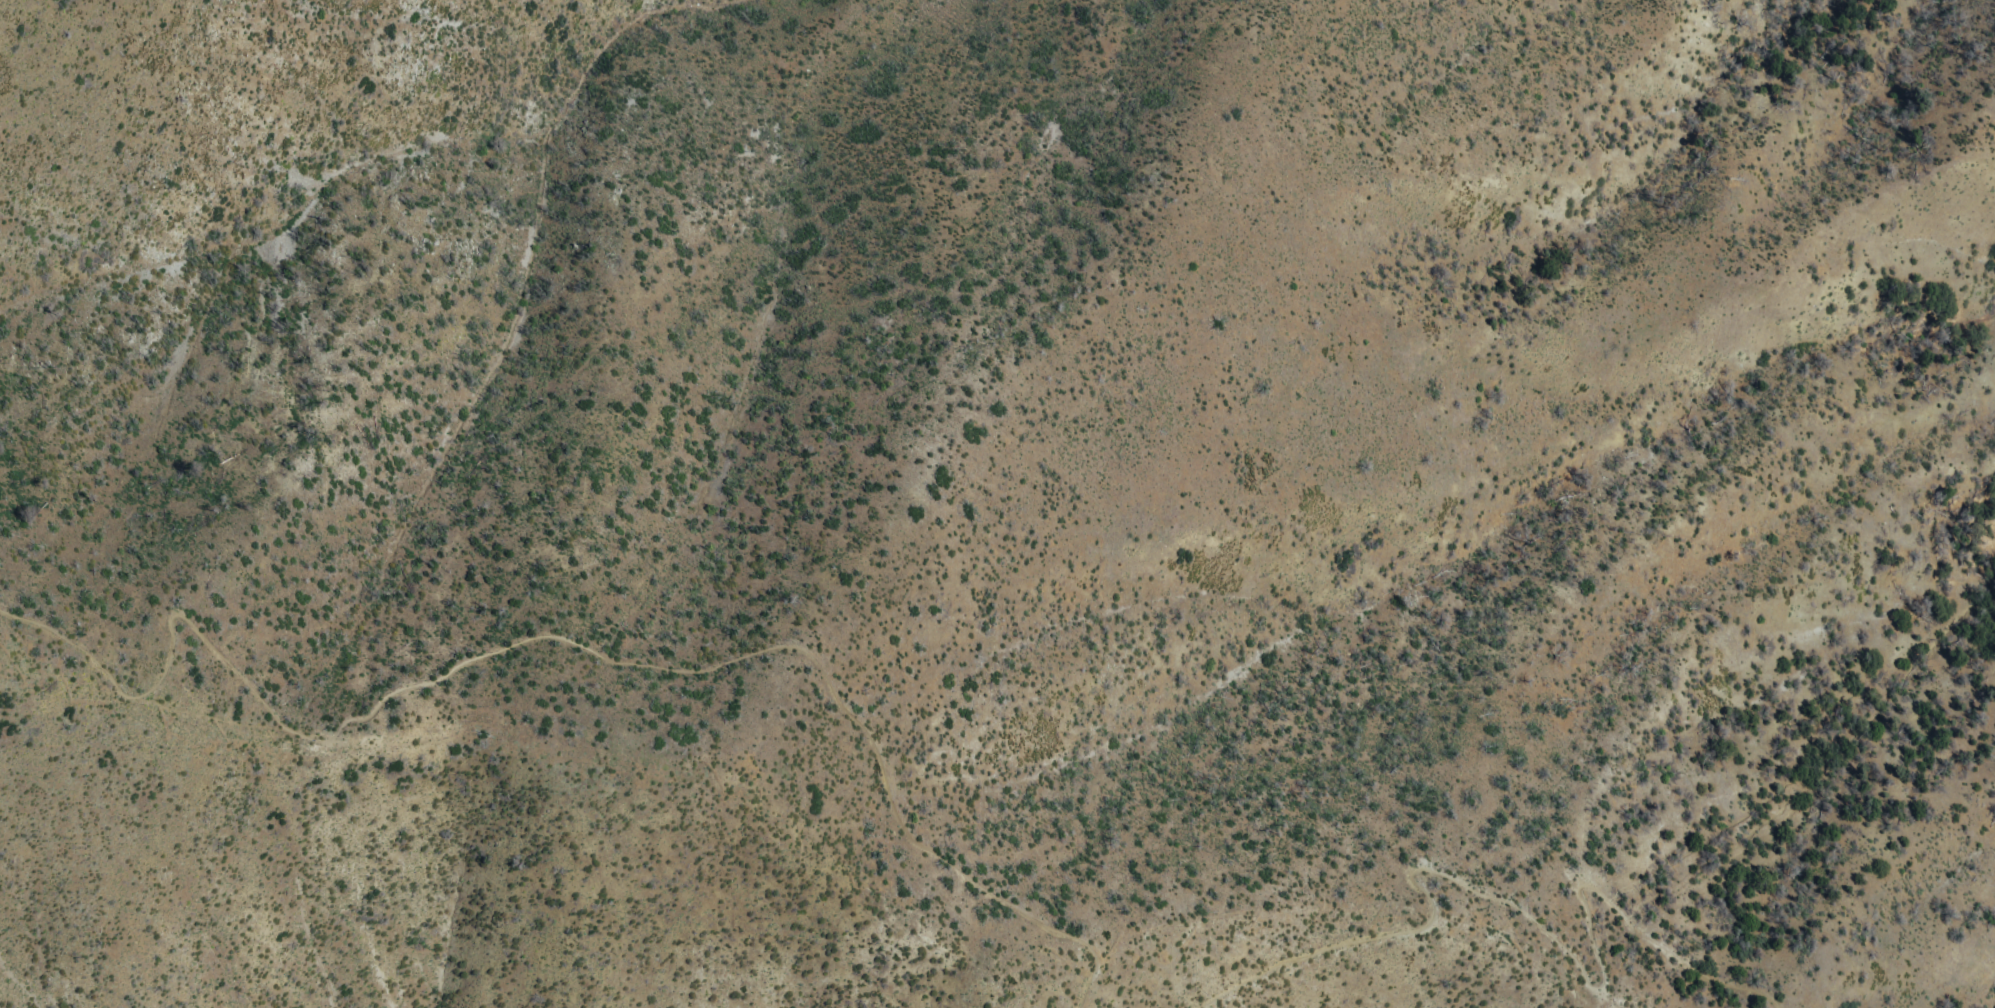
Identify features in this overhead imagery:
road: (575, 643)
road: (1515, 900)

